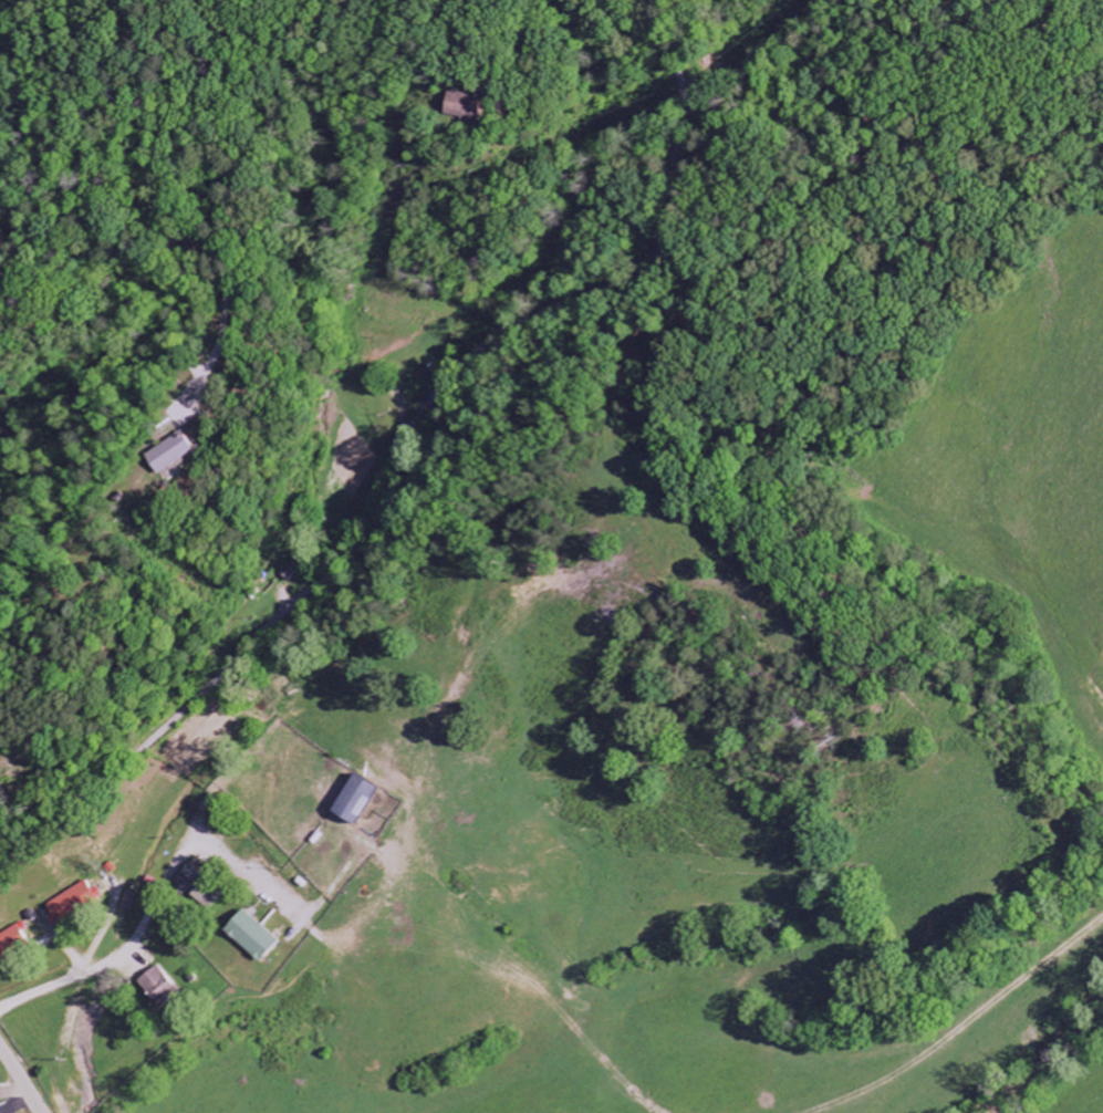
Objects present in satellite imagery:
building: (468, 106)
road: (793, 245)
road: (186, 364)
road: (404, 445)
building: (170, 454)
road: (28, 709)
building: (354, 802)
building: (196, 888)
building: (72, 903)
road: (154, 905)
building: (250, 937)
building: (13, 942)
building: (154, 986)
road: (21, 1079)

